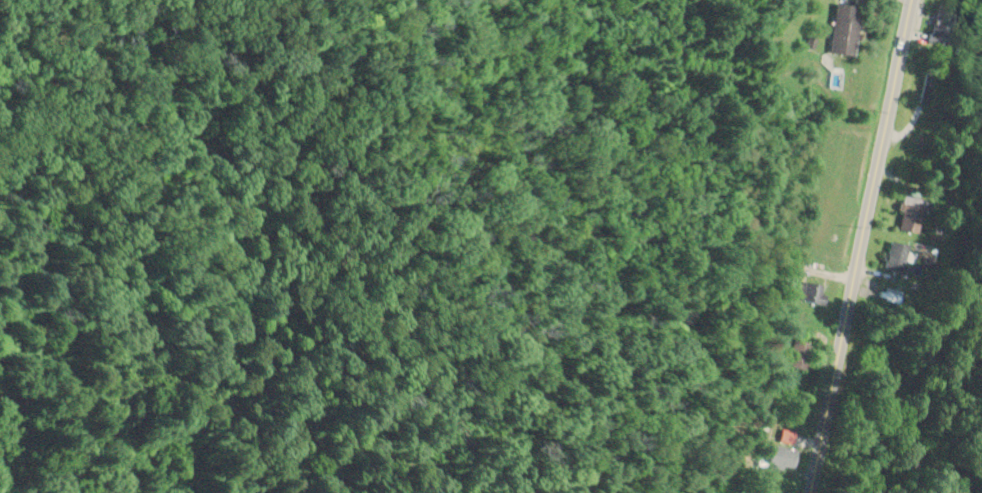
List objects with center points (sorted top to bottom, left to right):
building: (841, 29)
building: (908, 218)
road: (855, 246)
building: (896, 256)
building: (805, 292)
building: (795, 355)
building: (775, 457)

